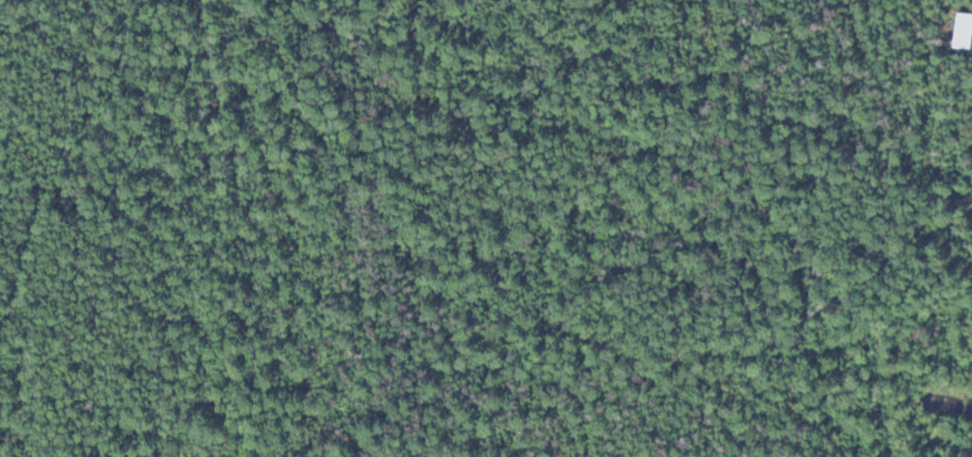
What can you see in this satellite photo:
building: (947, 26)

